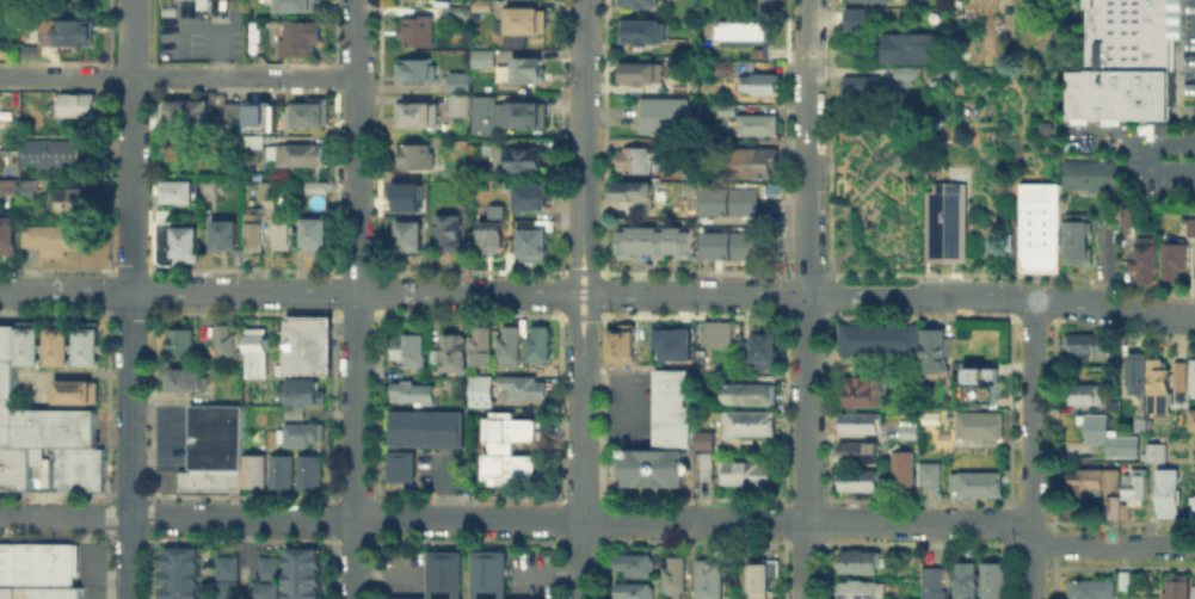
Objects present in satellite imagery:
building: (857, 0)
building: (637, 2)
building: (480, 5)
building: (207, 6)
building: (278, 6)
building: (303, 6)
building: (760, 6)
building: (0, 7)
building: (454, 10)
building: (857, 18)
building: (525, 20)
building: (413, 29)
building: (741, 29)
building: (641, 30)
building: (260, 32)
building: (75, 35)
building: (303, 38)
building: (758, 41)
building: (906, 45)
parking lot: (1188, 47)
building: (720, 51)
building: (480, 57)
building: (1123, 61)
building: (414, 69)
building: (526, 69)
building: (639, 69)
building: (722, 70)
building: (901, 74)
road: (179, 78)
building: (457, 81)
building: (758, 82)
building: (863, 86)
building: (458, 104)
building: (79, 105)
building: (726, 109)
building: (308, 111)
building: (504, 112)
building: (418, 113)
building: (661, 113)
building: (236, 115)
building: (260, 115)
building: (185, 117)
building: (756, 123)
building: (257, 142)
building: (461, 142)
road: (583, 147)
building: (710, 147)
building: (51, 155)
building: (414, 155)
road: (1148, 155)
building: (895, 156)
building: (303, 158)
building: (632, 159)
parking lot: (1162, 159)
building: (523, 160)
building: (747, 160)
building: (1089, 173)
building: (33, 185)
building: (211, 187)
building: (319, 189)
building: (183, 190)
building: (633, 190)
building: (270, 192)
building: (408, 194)
building: (529, 196)
building: (728, 199)
building: (78, 204)
building: (1126, 214)
building: (1039, 224)
building: (944, 226)
building: (1189, 226)
building: (446, 229)
building: (491, 229)
building: (259, 230)
building: (1126, 230)
building: (407, 234)
building: (10, 235)
building: (229, 235)
building: (56, 237)
building: (290, 237)
building: (319, 237)
building: (1076, 237)
building: (178, 239)
building: (653, 241)
building: (531, 242)
building: (728, 242)
building: (1171, 258)
building: (1142, 259)
road: (1102, 265)
road: (290, 292)
road: (889, 296)
road: (129, 298)
road: (807, 298)
road: (358, 299)
building: (717, 333)
building: (877, 339)
building: (223, 340)
building: (7, 341)
building: (536, 341)
building: (180, 342)
building: (621, 342)
building: (672, 342)
building: (27, 344)
building: (478, 344)
building: (57, 345)
building: (86, 345)
building: (307, 345)
building: (1085, 345)
building: (507, 346)
building: (409, 348)
building: (763, 350)
building: (932, 350)
building: (254, 351)
building: (454, 351)
building: (433, 356)
building: (1134, 372)
building: (1179, 375)
building: (1191, 376)
building: (185, 378)
building: (980, 384)
building: (522, 385)
building: (1160, 385)
building: (479, 389)
building: (75, 390)
building: (303, 390)
building: (862, 390)
building: (411, 391)
building: (749, 391)
building: (1083, 393)
building: (294, 410)
building: (1191, 418)
building: (860, 421)
building: (749, 422)
building: (978, 424)
building: (425, 427)
building: (907, 427)
building: (35, 431)
building: (302, 433)
building: (215, 434)
building: (661, 434)
building: (1107, 434)
building: (703, 439)
road: (581, 446)
road: (1033, 447)
building: (507, 449)
building: (857, 451)
building: (1159, 455)
building: (702, 464)
building: (73, 465)
building: (400, 465)
building: (308, 469)
building: (901, 469)
building: (253, 470)
building: (281, 470)
building: (744, 471)
building: (929, 473)
building: (1091, 477)
building: (857, 478)
building: (209, 480)
building: (974, 482)
building: (1133, 483)
building: (1170, 496)
building: (1110, 505)
building: (1194, 507)
road: (600, 519)
road: (253, 558)
building: (857, 560)
building: (632, 562)
building: (36, 563)
building: (226, 566)
building: (266, 566)
building: (179, 572)
building: (301, 573)
building: (672, 574)
building: (446, 575)
building: (494, 575)
building: (759, 578)
building: (707, 579)
building: (965, 579)
building: (991, 580)
building: (932, 582)
building: (1178, 587)
building: (226, 588)
building: (860, 588)
building: (1193, 588)
building: (266, 589)
building: (632, 589)
building: (1092, 589)
building: (7, 591)
building: (47, 592)
building: (673, 598)

